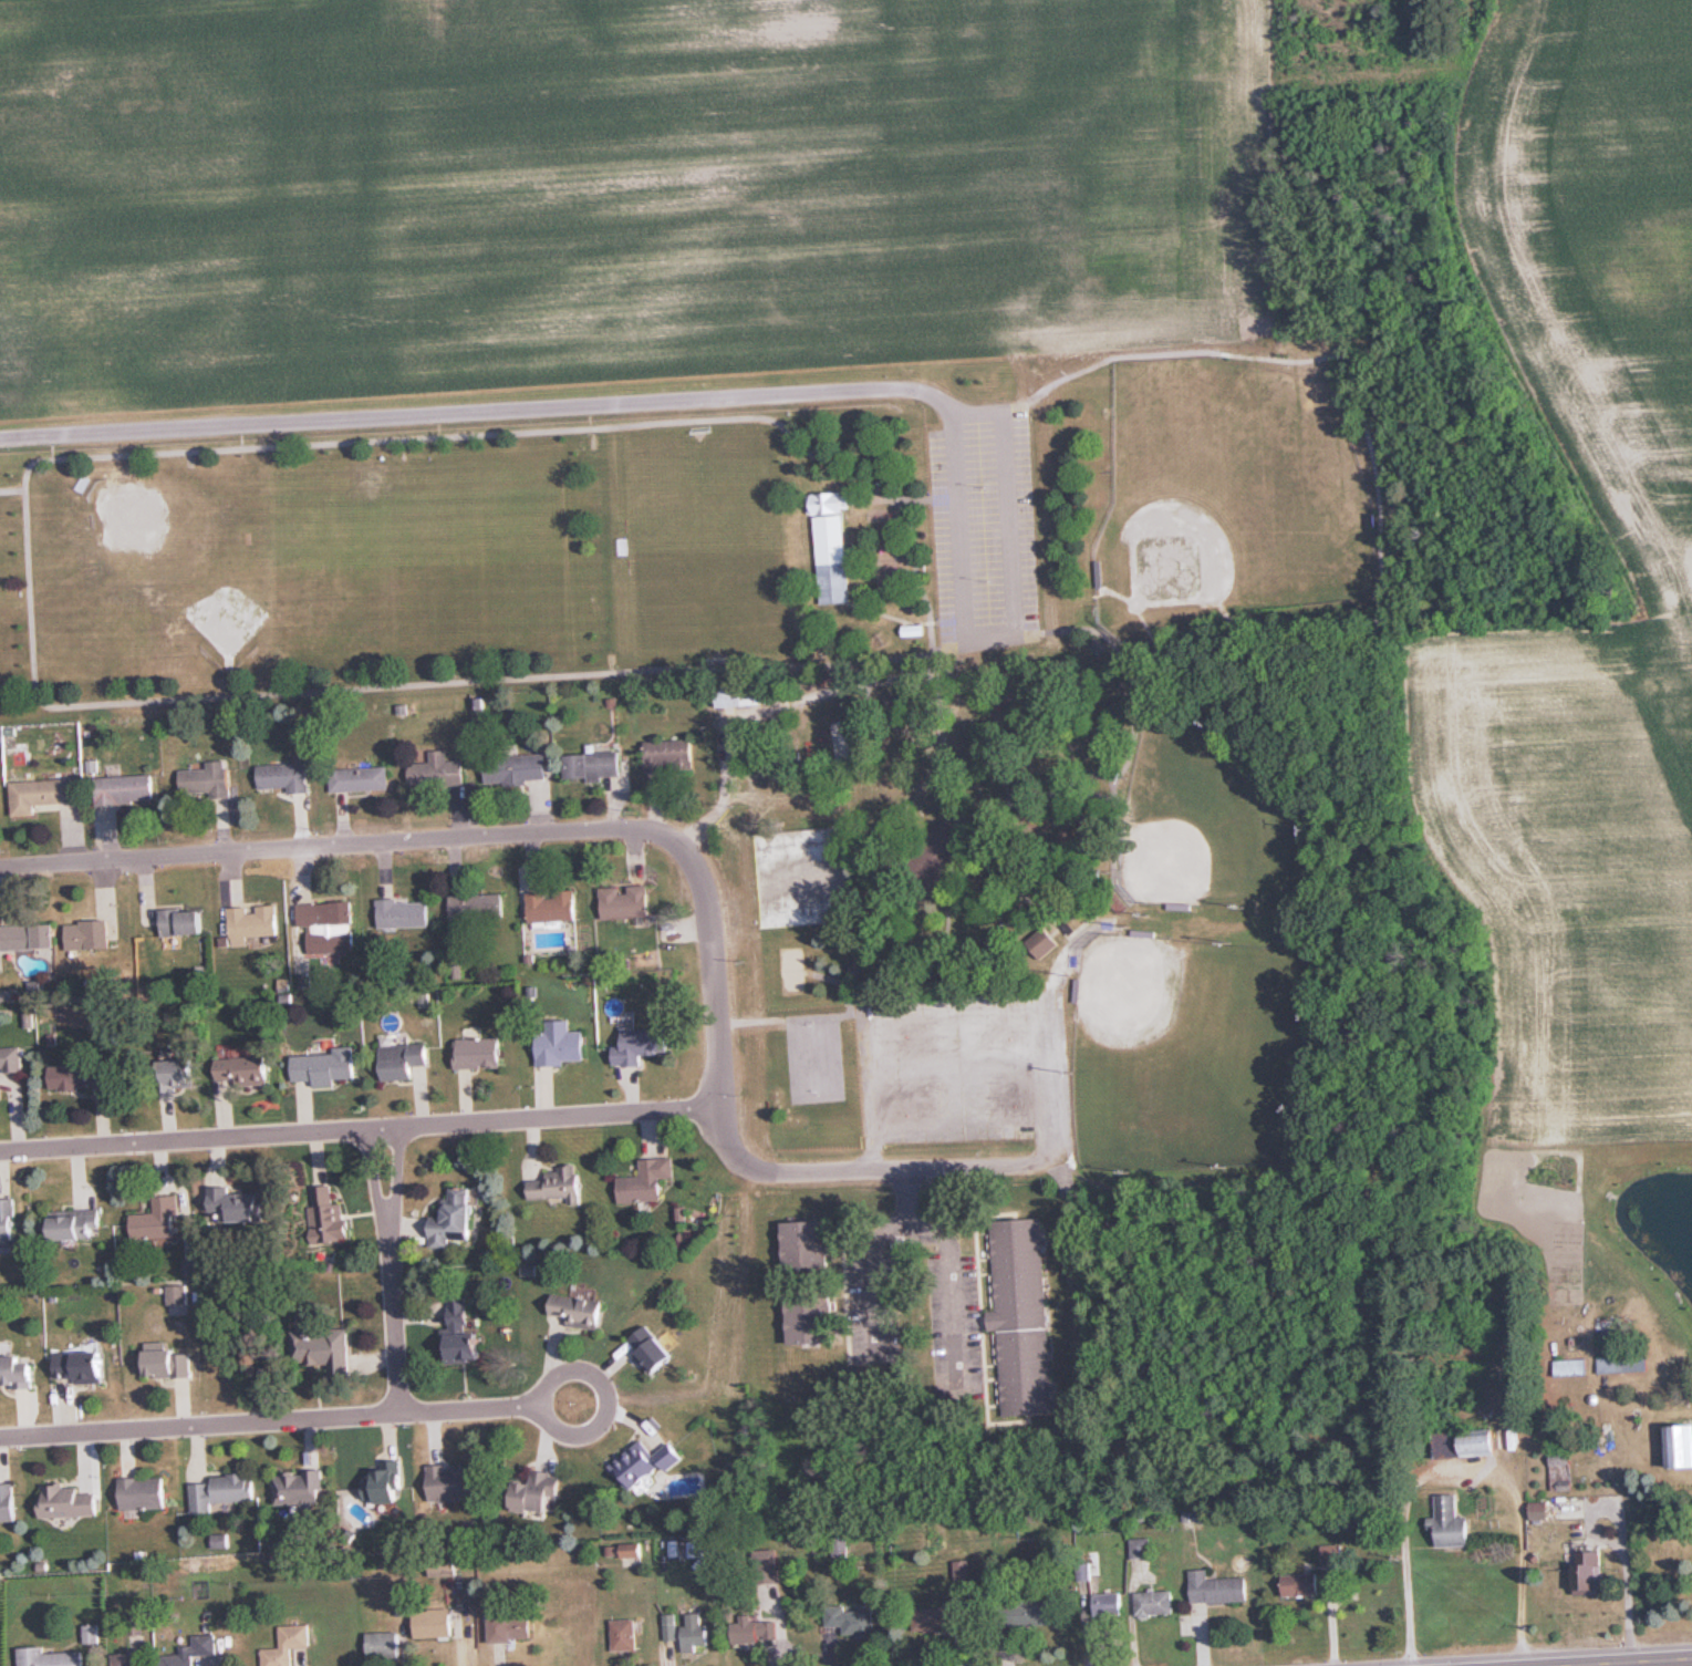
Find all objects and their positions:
road: (591, 405)
park: (1245, 483)
road: (895, 505)
parking lot: (983, 522)
park: (145, 524)
park: (385, 524)
park: (272, 528)
park: (683, 534)
park: (496, 542)
building: (837, 582)
road: (1132, 606)
road: (1101, 615)
road: (835, 663)
road: (859, 685)
building: (740, 696)
park: (884, 697)
road: (1107, 697)
building: (671, 753)
building: (595, 764)
building: (518, 768)
building: (438, 770)
building: (286, 775)
building: (361, 777)
building: (208, 779)
building: (127, 788)
building: (42, 793)
park: (1207, 820)
road: (342, 847)
road: (934, 855)
building: (627, 900)
building: (478, 906)
building: (553, 906)
building: (404, 912)
building: (183, 921)
building: (253, 922)
building: (330, 925)
building: (48, 934)
building: (90, 934)
building: (18, 937)
building: (1045, 942)
building: (643, 1044)
building: (562, 1048)
building: (480, 1052)
park: (813, 1058)
building: (11, 1059)
building: (405, 1059)
park: (1193, 1059)
building: (326, 1066)
parking lot: (964, 1068)
building: (247, 1069)
building: (181, 1070)
building: (68, 1077)
road: (360, 1131)
road: (743, 1162)
building: (650, 1181)
building: (557, 1186)
building: (239, 1203)
building: (8, 1219)
building: (157, 1219)
building: (456, 1219)
building: (75, 1223)
building: (341, 1223)
building: (809, 1243)
road: (872, 1250)
road: (392, 1273)
road: (954, 1280)
building: (175, 1295)
building: (580, 1310)
building: (1024, 1315)
building: (812, 1316)
building: (465, 1335)
building: (326, 1344)
building: (654, 1348)
building: (169, 1363)
building: (1627, 1363)
building: (1576, 1366)
building: (81, 1367)
building: (18, 1372)
road: (608, 1398)
road: (469, 1410)
road: (199, 1427)
building: (1472, 1442)
building: (1684, 1445)
building: (647, 1463)
building: (454, 1482)
building: (388, 1486)
building: (299, 1488)
building: (220, 1491)
building: (143, 1492)
building: (540, 1492)
building: (68, 1502)
building: (8, 1503)
building: (1542, 1510)
building: (1452, 1522)
building: (1141, 1548)
road: (1517, 1555)
building: (1592, 1569)
building: (1304, 1585)
building: (1217, 1587)
building: (1154, 1603)
building: (1108, 1604)
building: (1034, 1612)
building: (938, 1616)
building: (853, 1620)
building: (435, 1623)
building: (671, 1626)
building: (512, 1627)
building: (756, 1629)
building: (696, 1632)
building: (624, 1634)
building: (288, 1645)
building: (383, 1645)
building: (193, 1653)
building: (50, 1657)
building: (127, 1658)
road: (1636, 1663)

